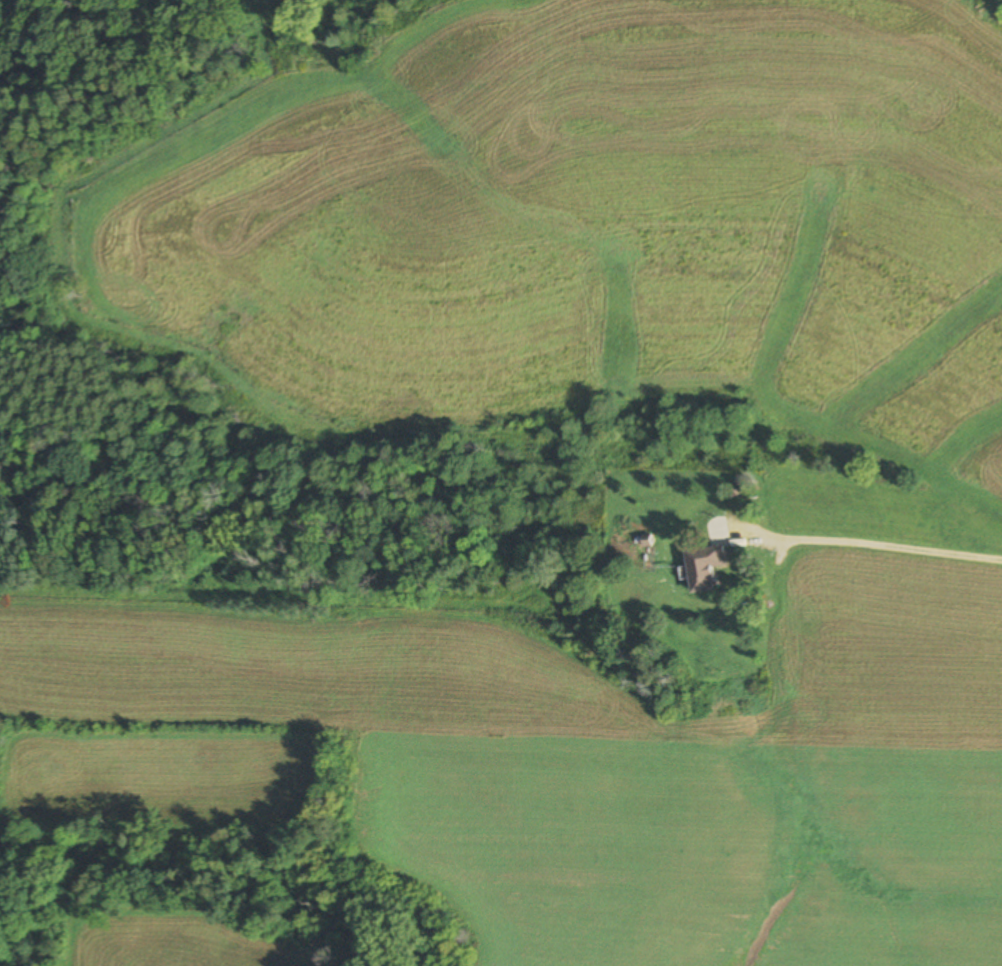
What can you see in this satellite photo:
road: (869, 541)
building: (703, 567)

